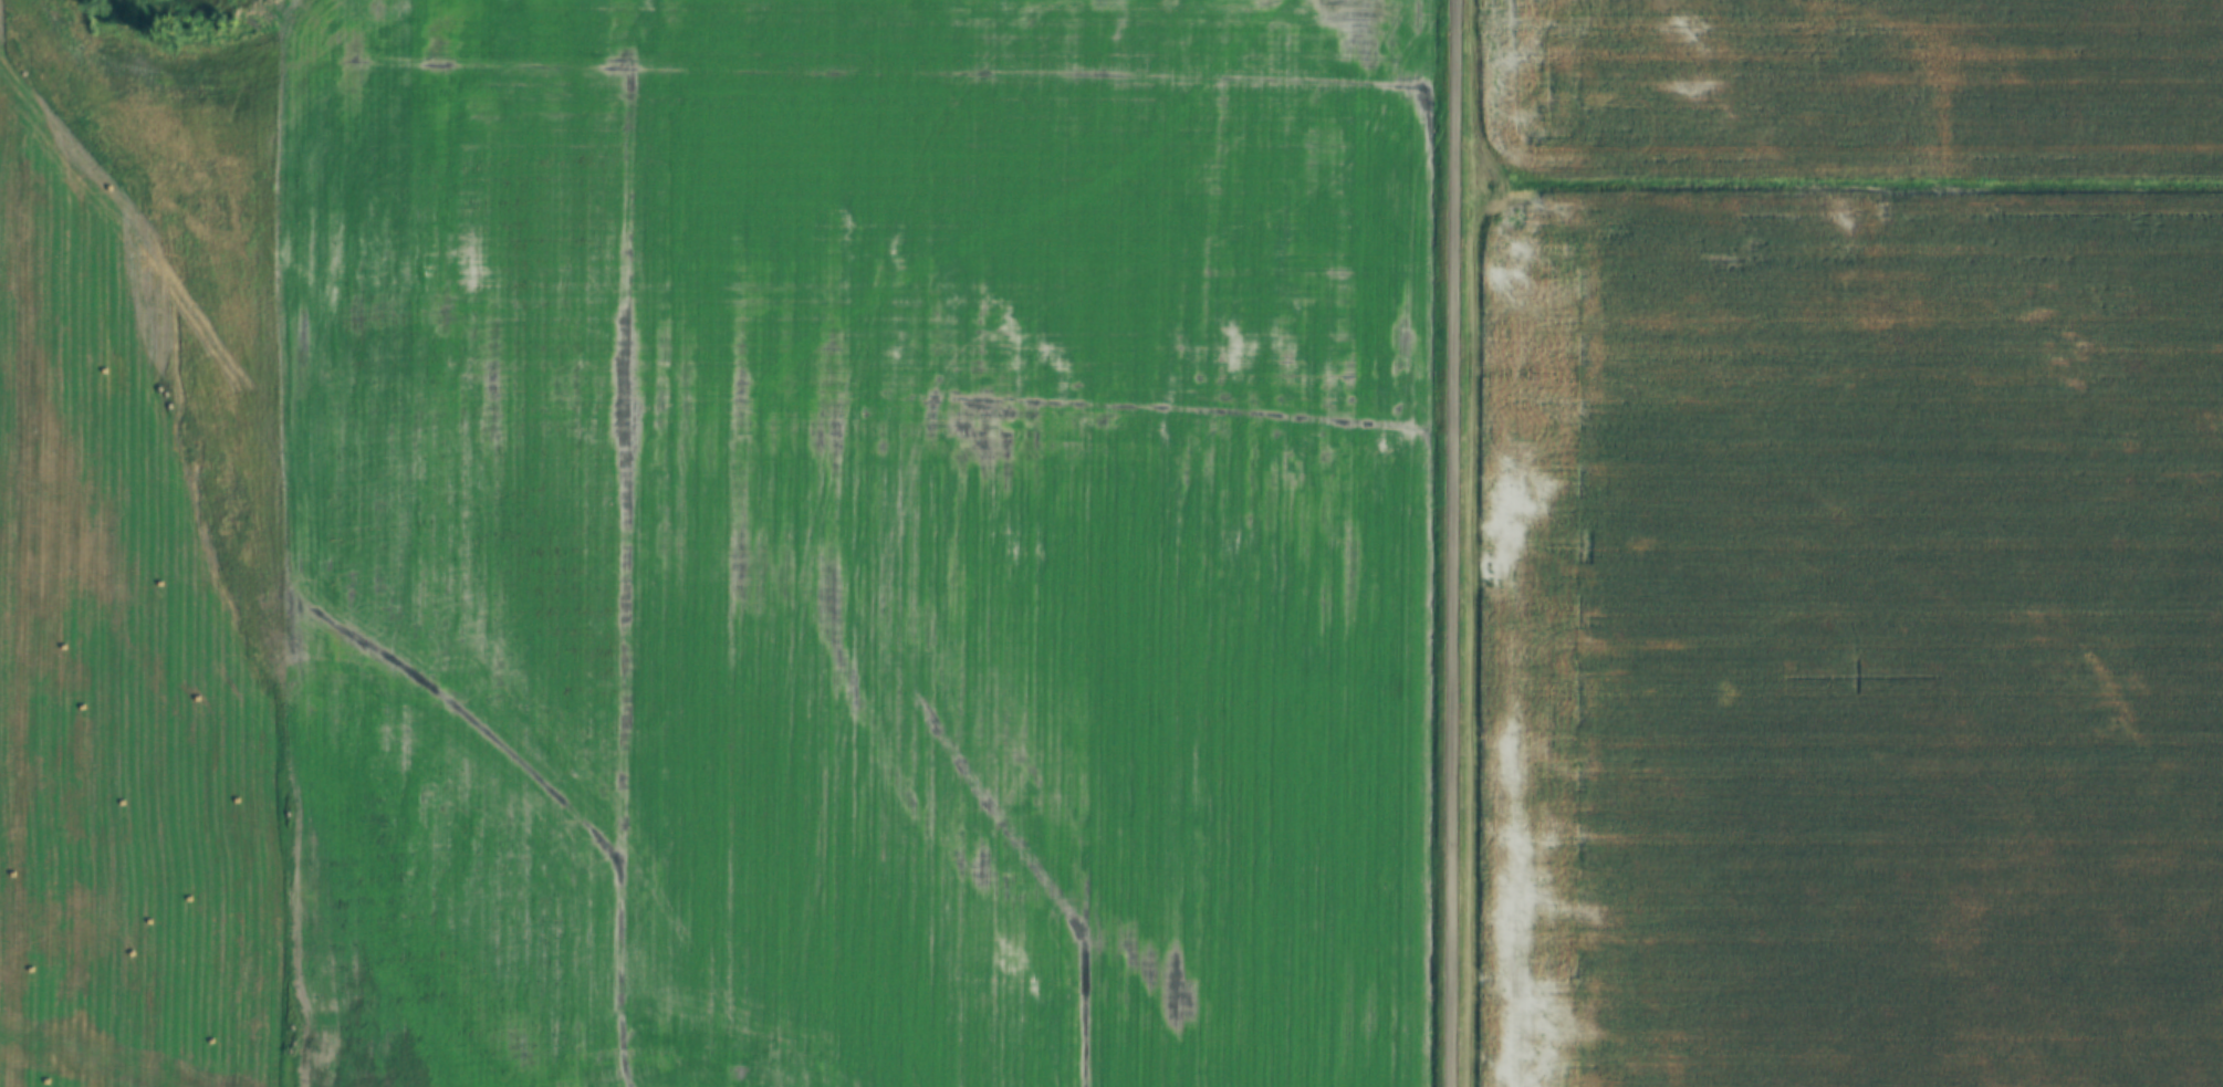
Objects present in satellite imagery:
road: (1460, 543)

